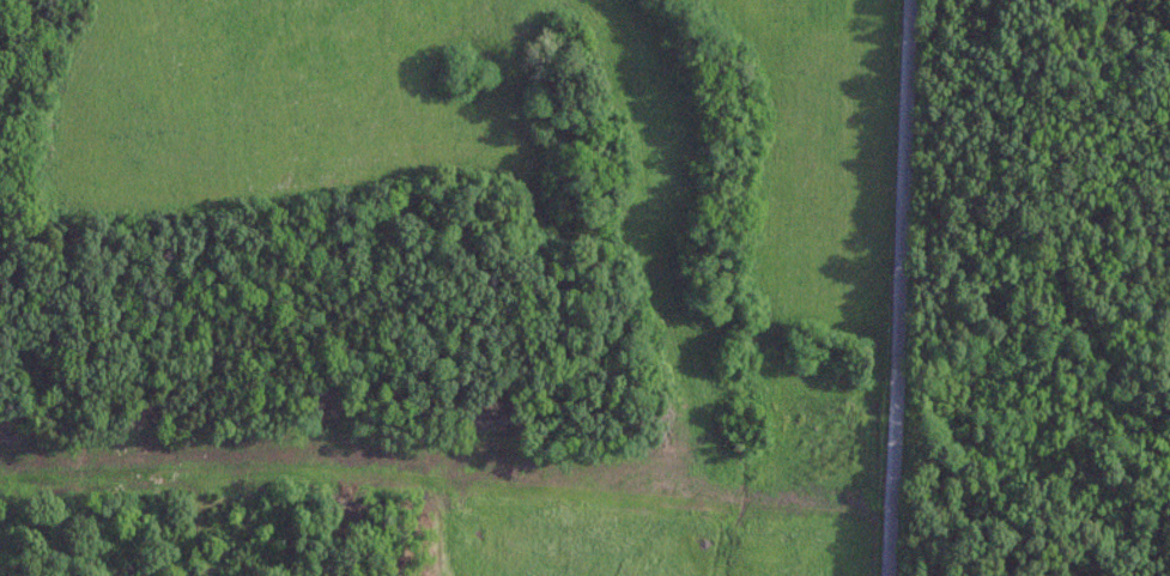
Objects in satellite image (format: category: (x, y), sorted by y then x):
road: (891, 287)

